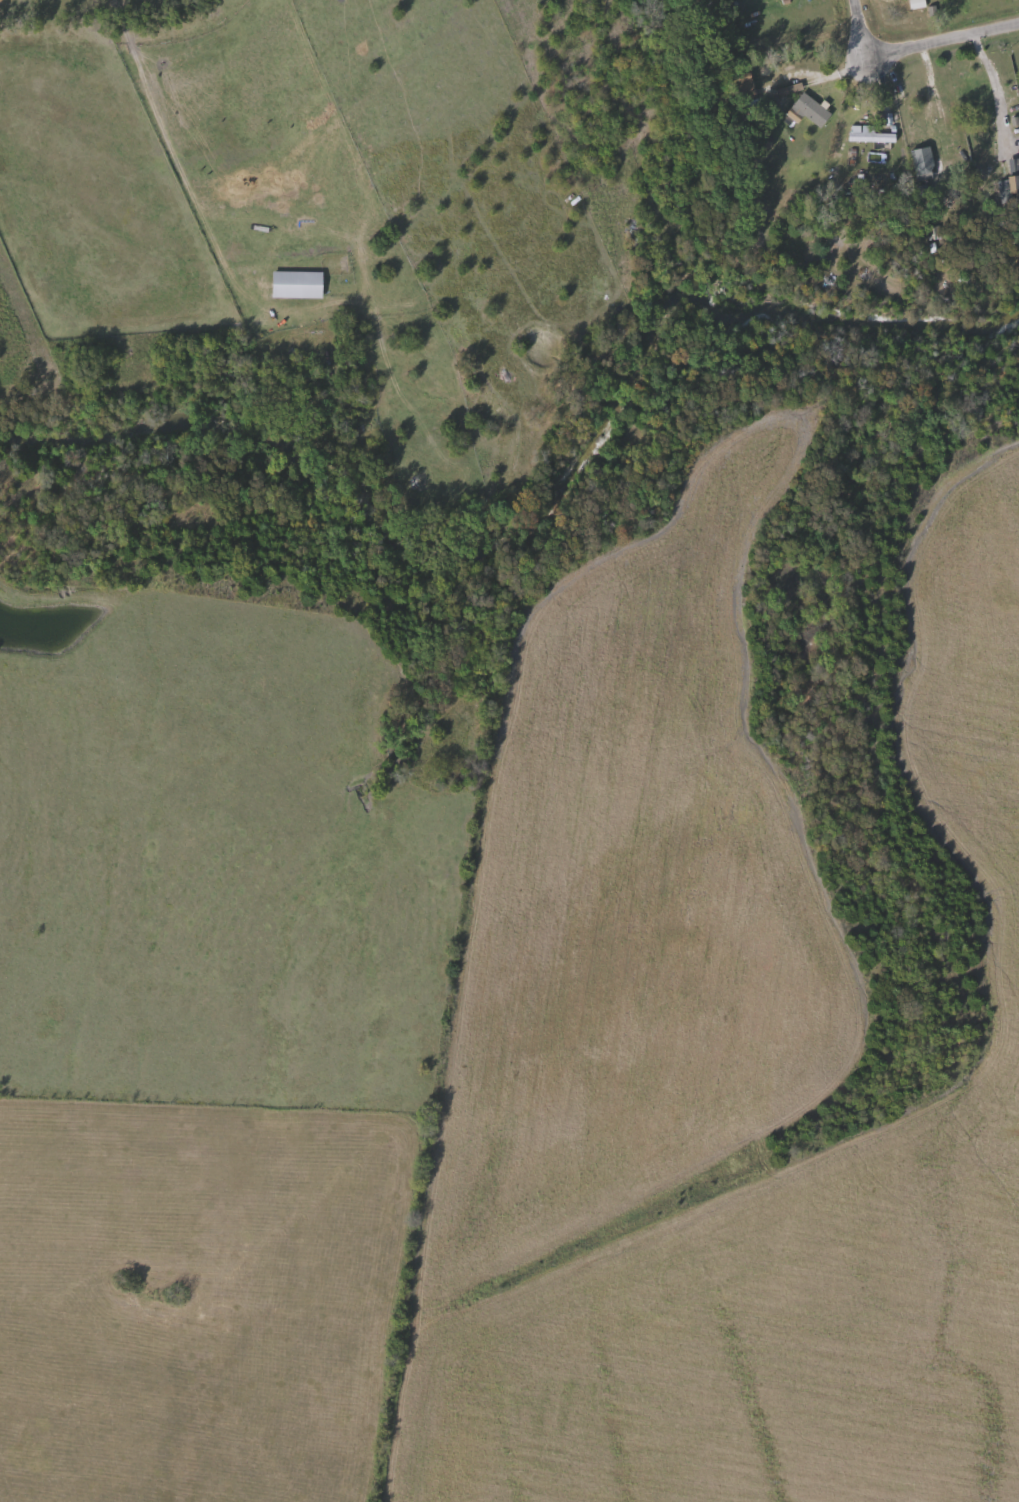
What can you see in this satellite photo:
road: (916, 47)
road: (830, 78)
road: (999, 84)
building: (991, 91)
building: (811, 108)
building: (931, 110)
building: (870, 133)
building: (299, 283)

